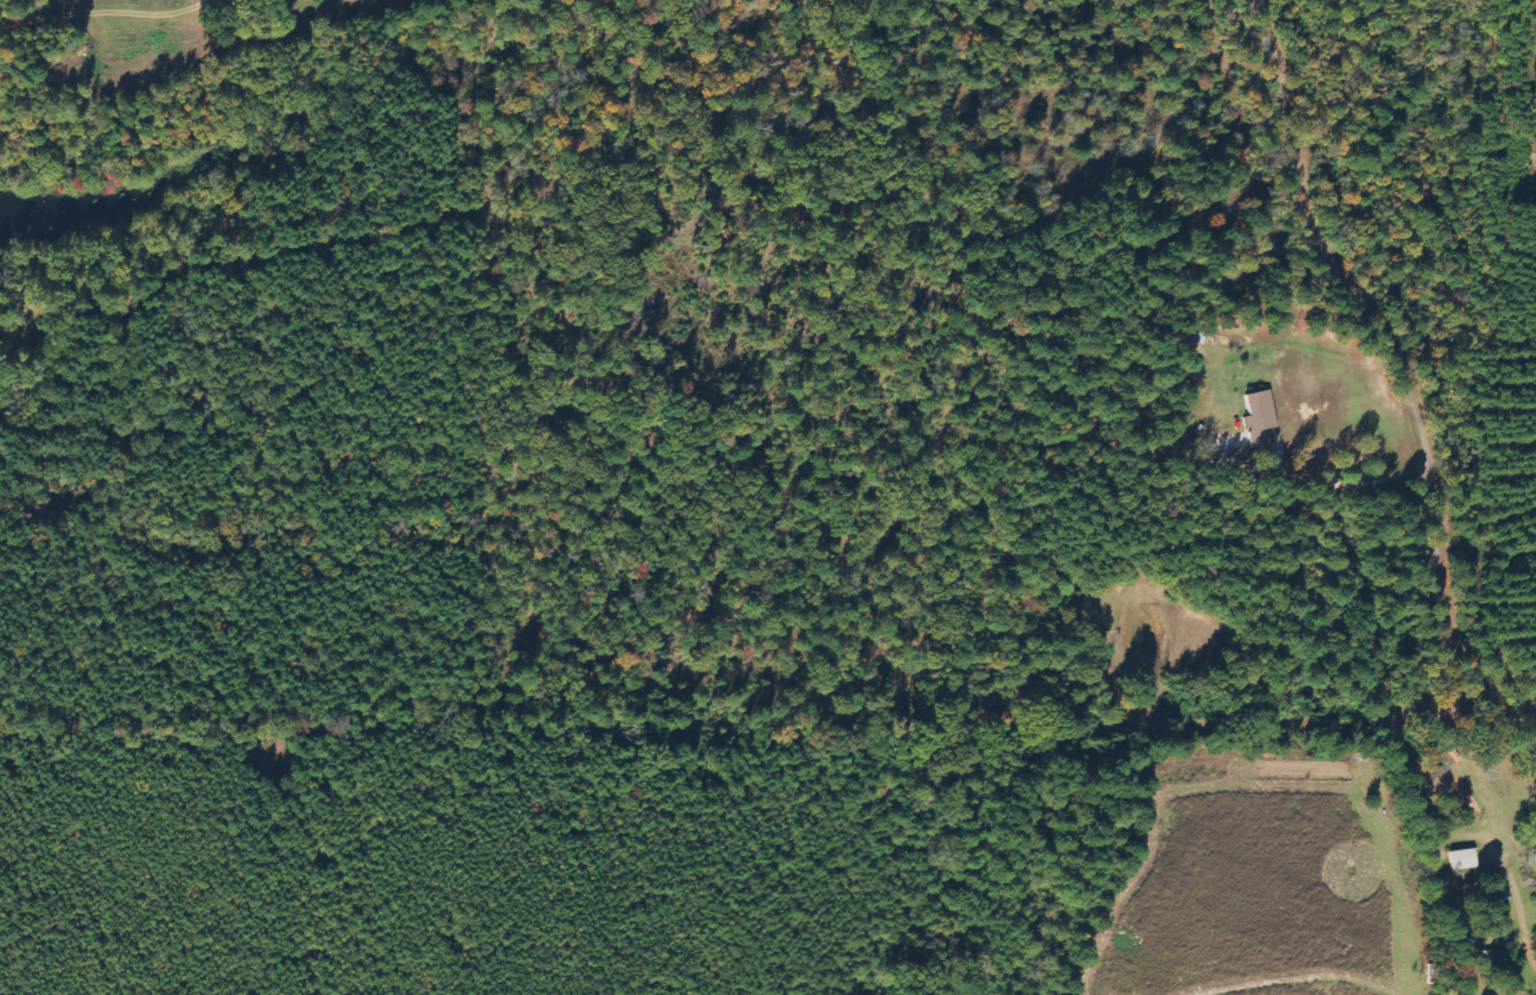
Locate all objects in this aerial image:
road: (1407, 370)
building: (1258, 412)
building: (1462, 859)

